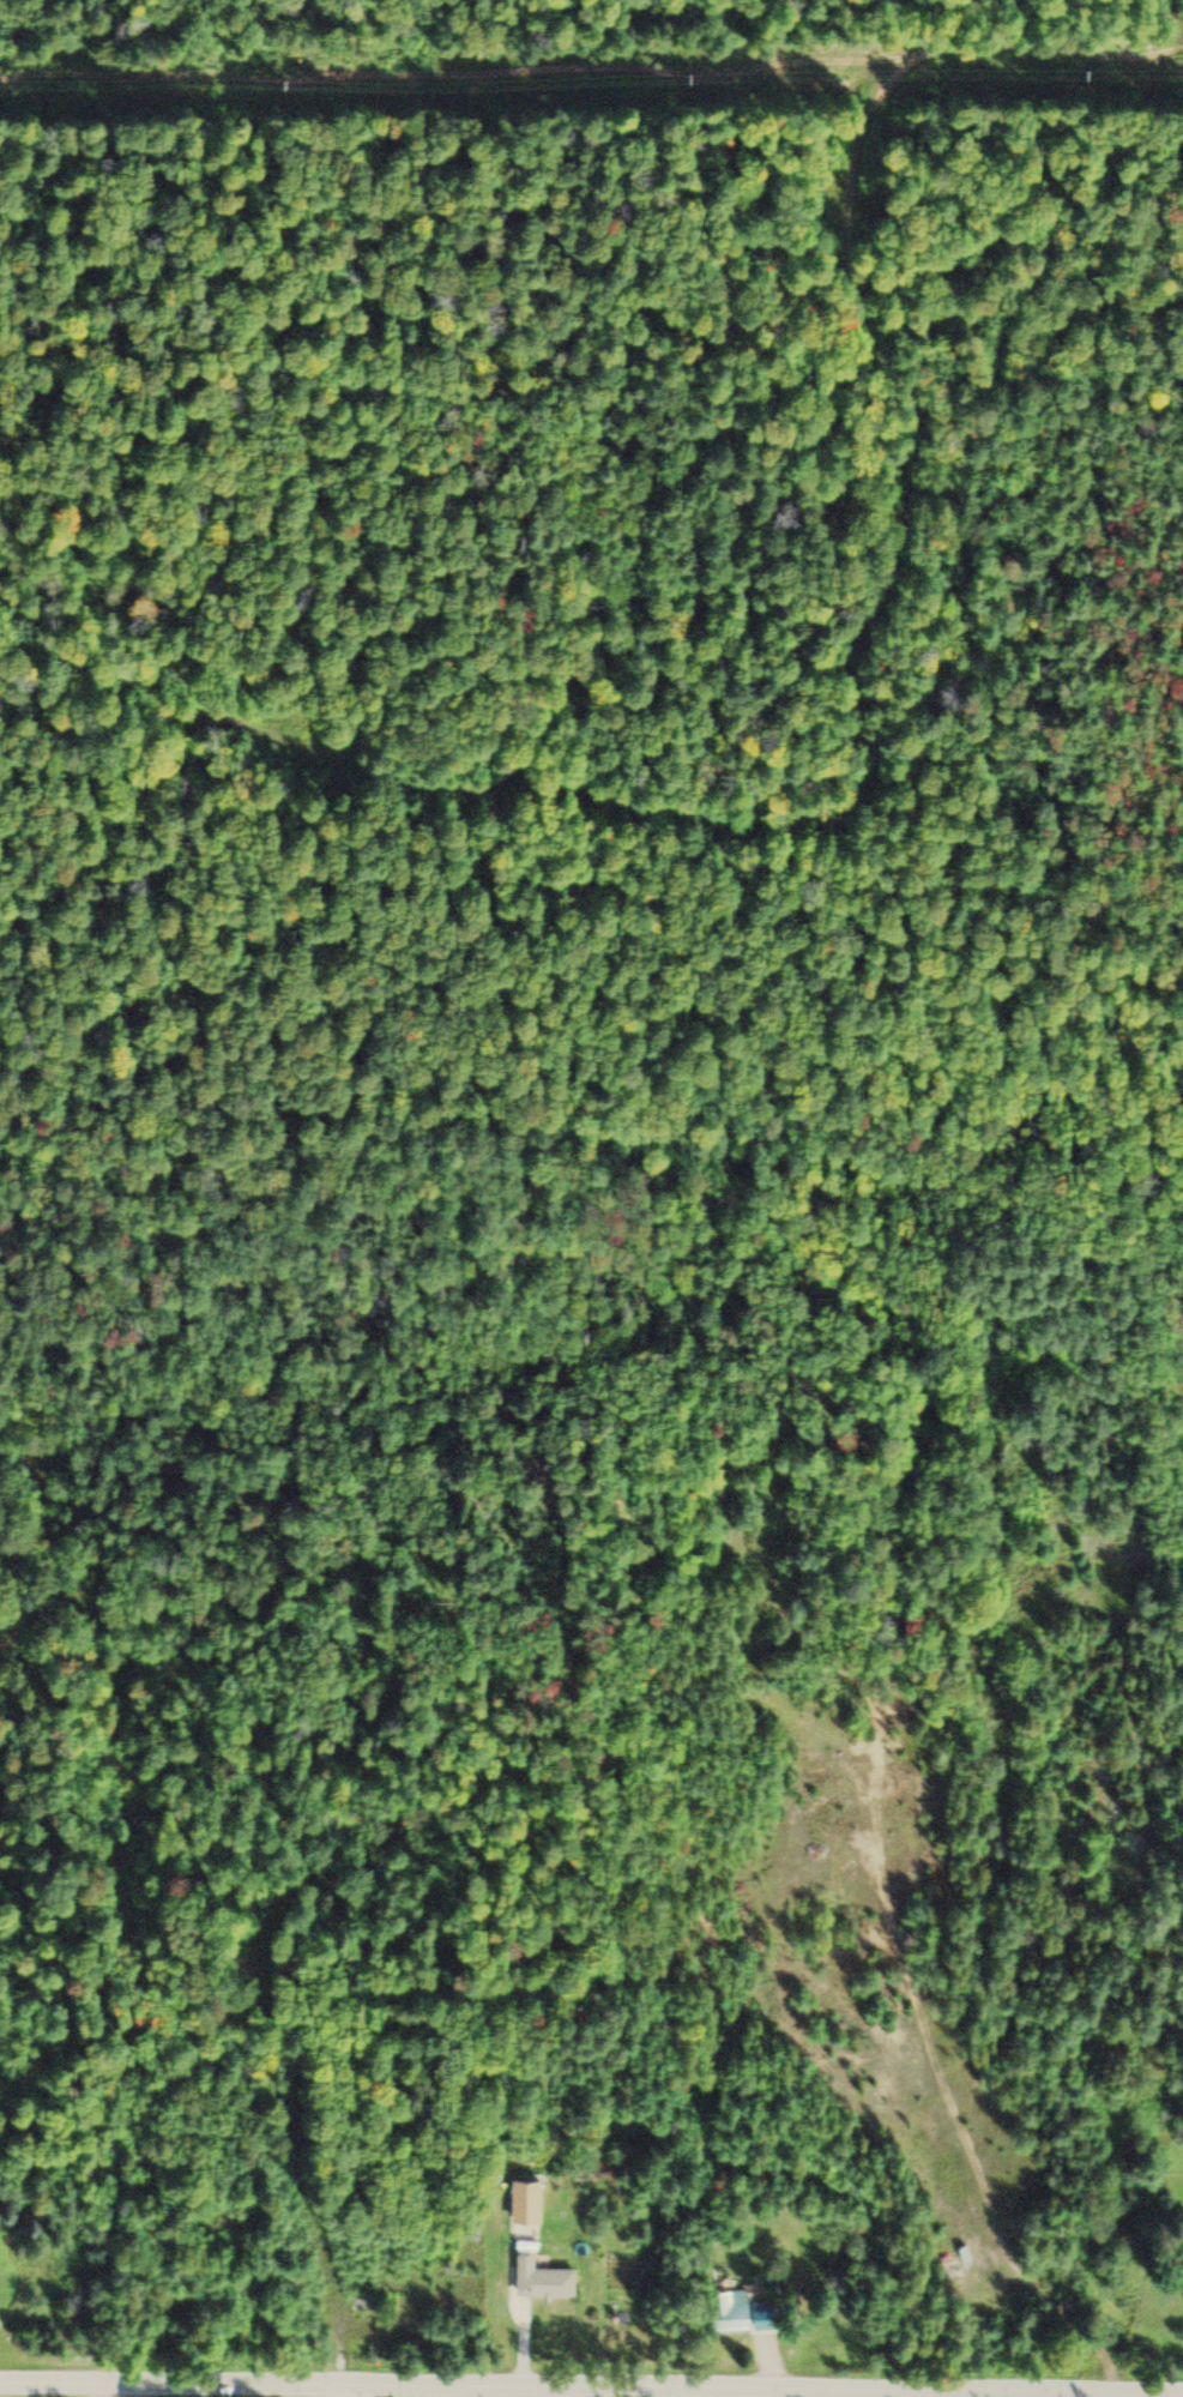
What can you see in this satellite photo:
building: (524, 2202)
building: (539, 2279)
building: (759, 2325)
road: (521, 2391)
road: (338, 2393)

